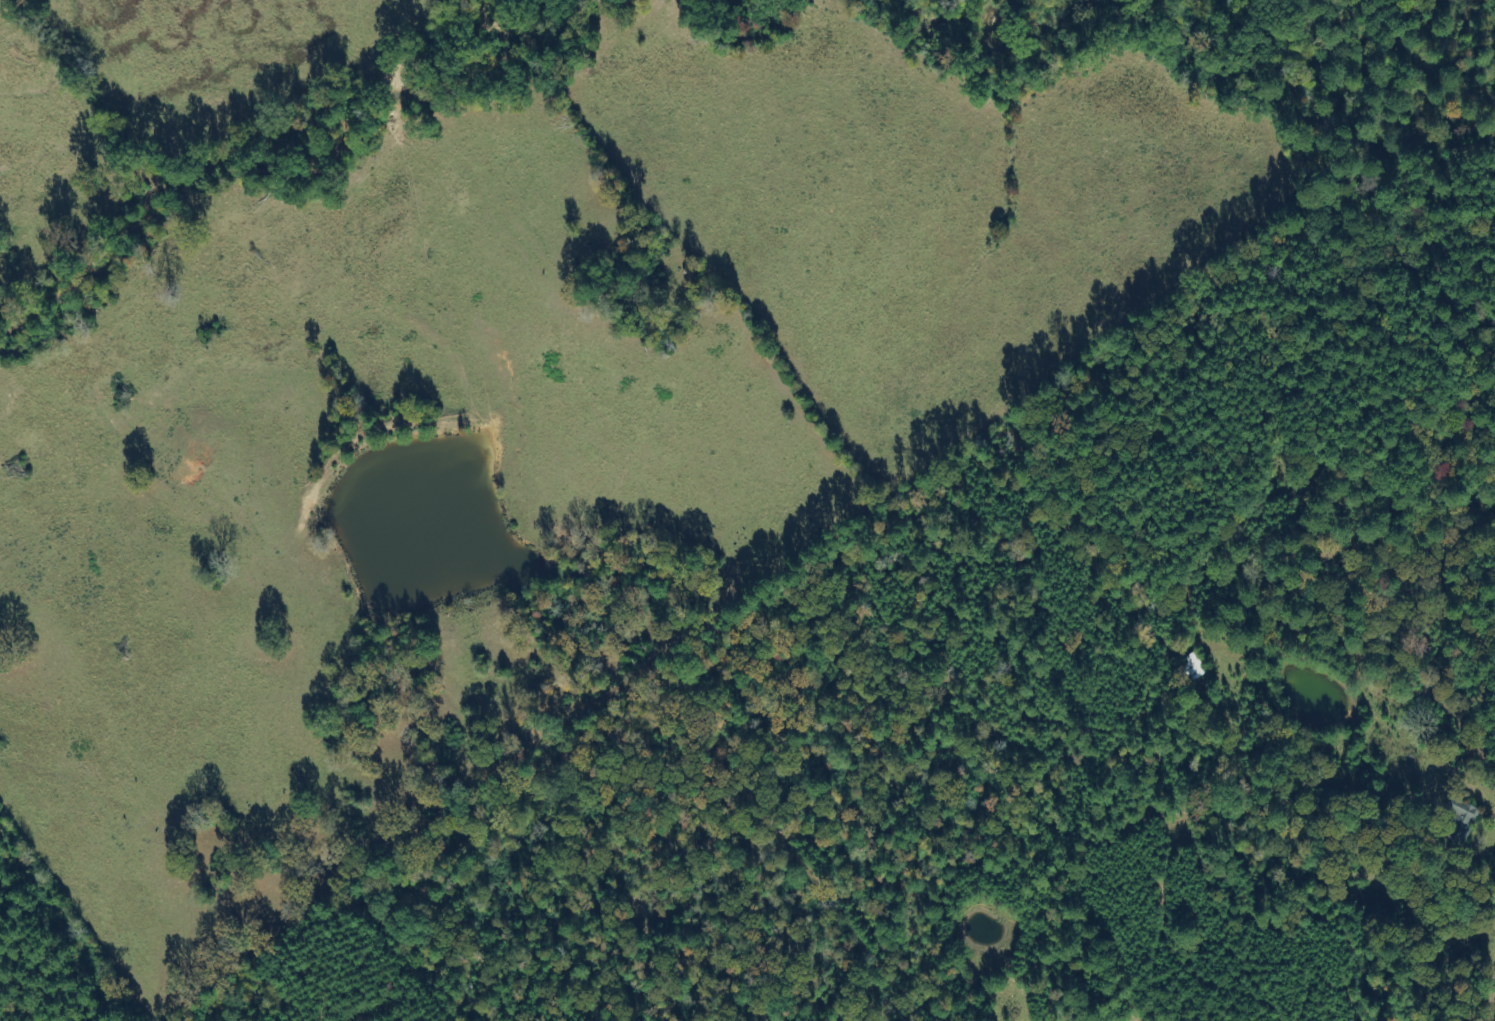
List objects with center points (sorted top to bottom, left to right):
building: (1461, 817)

